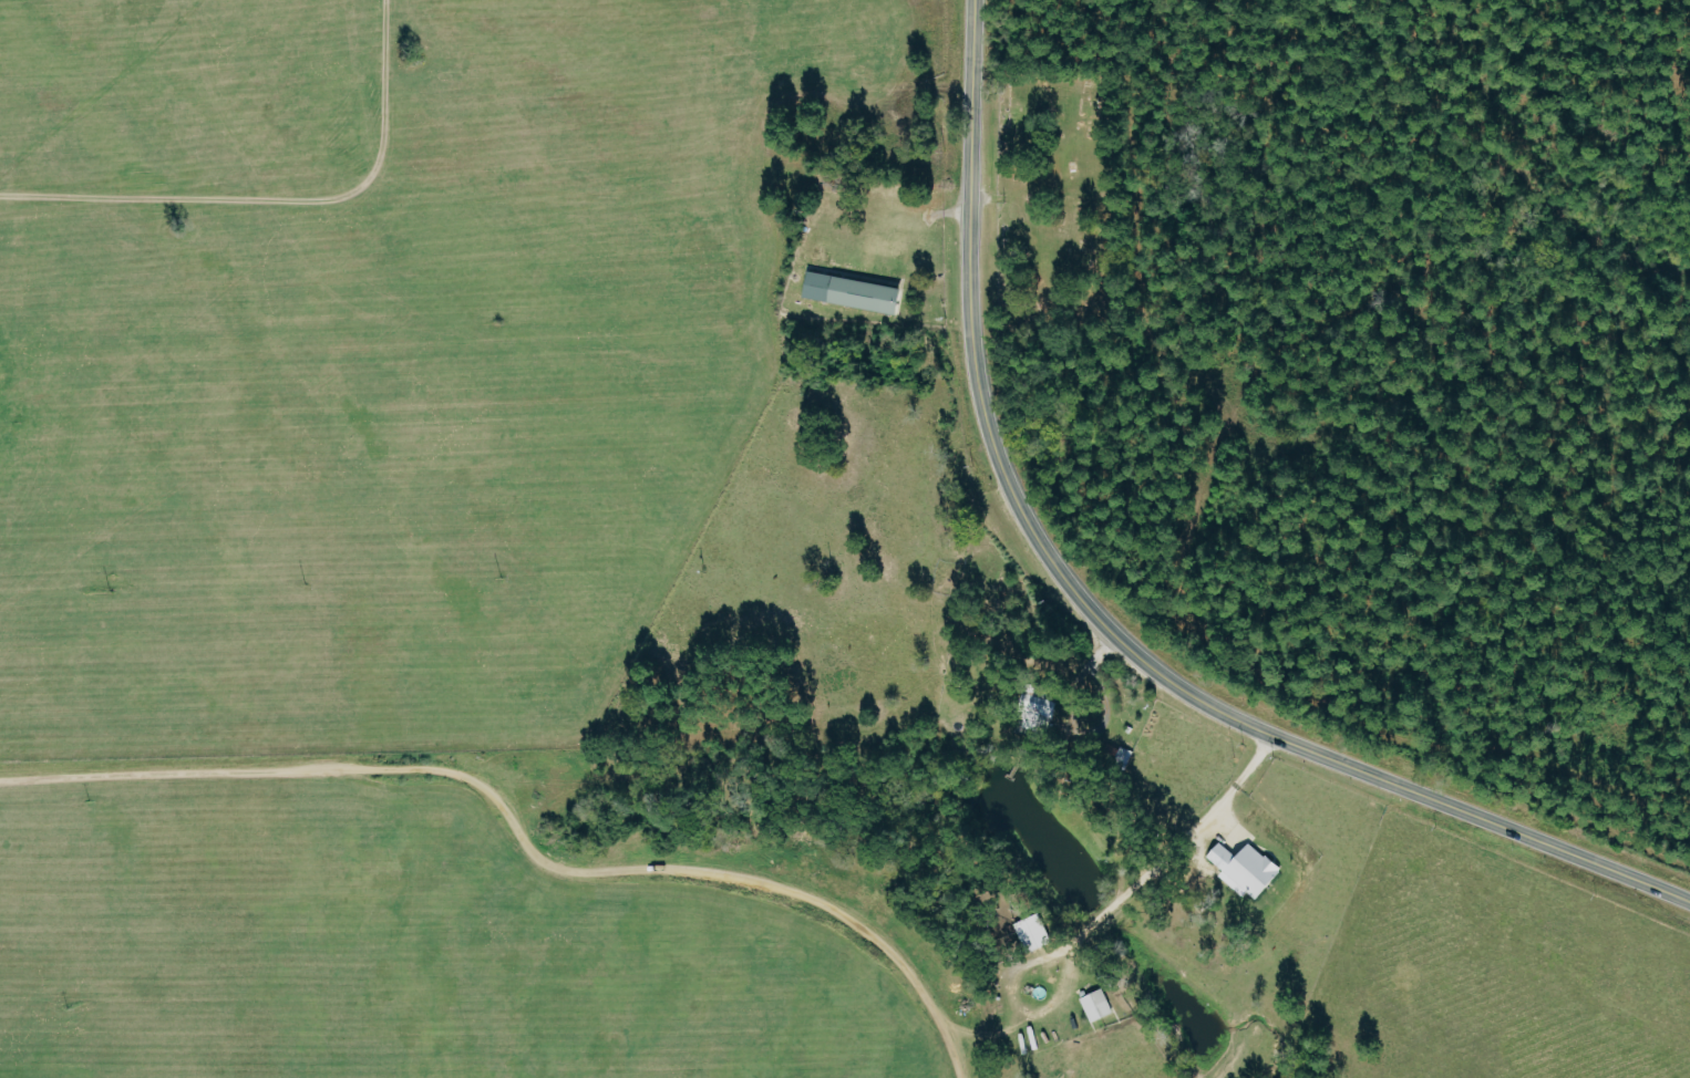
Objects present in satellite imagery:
park: (1060, 198)
building: (855, 292)
road: (1100, 622)
building: (1042, 709)
road: (1235, 775)
building: (1248, 869)
building: (1099, 1004)

